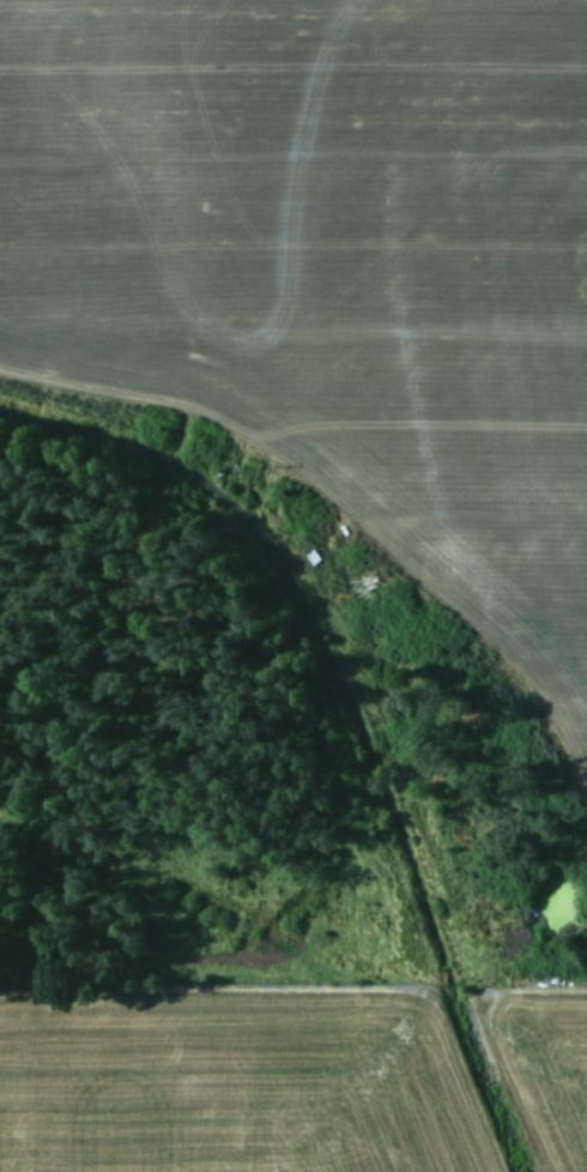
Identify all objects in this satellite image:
crop: (293, 586)

